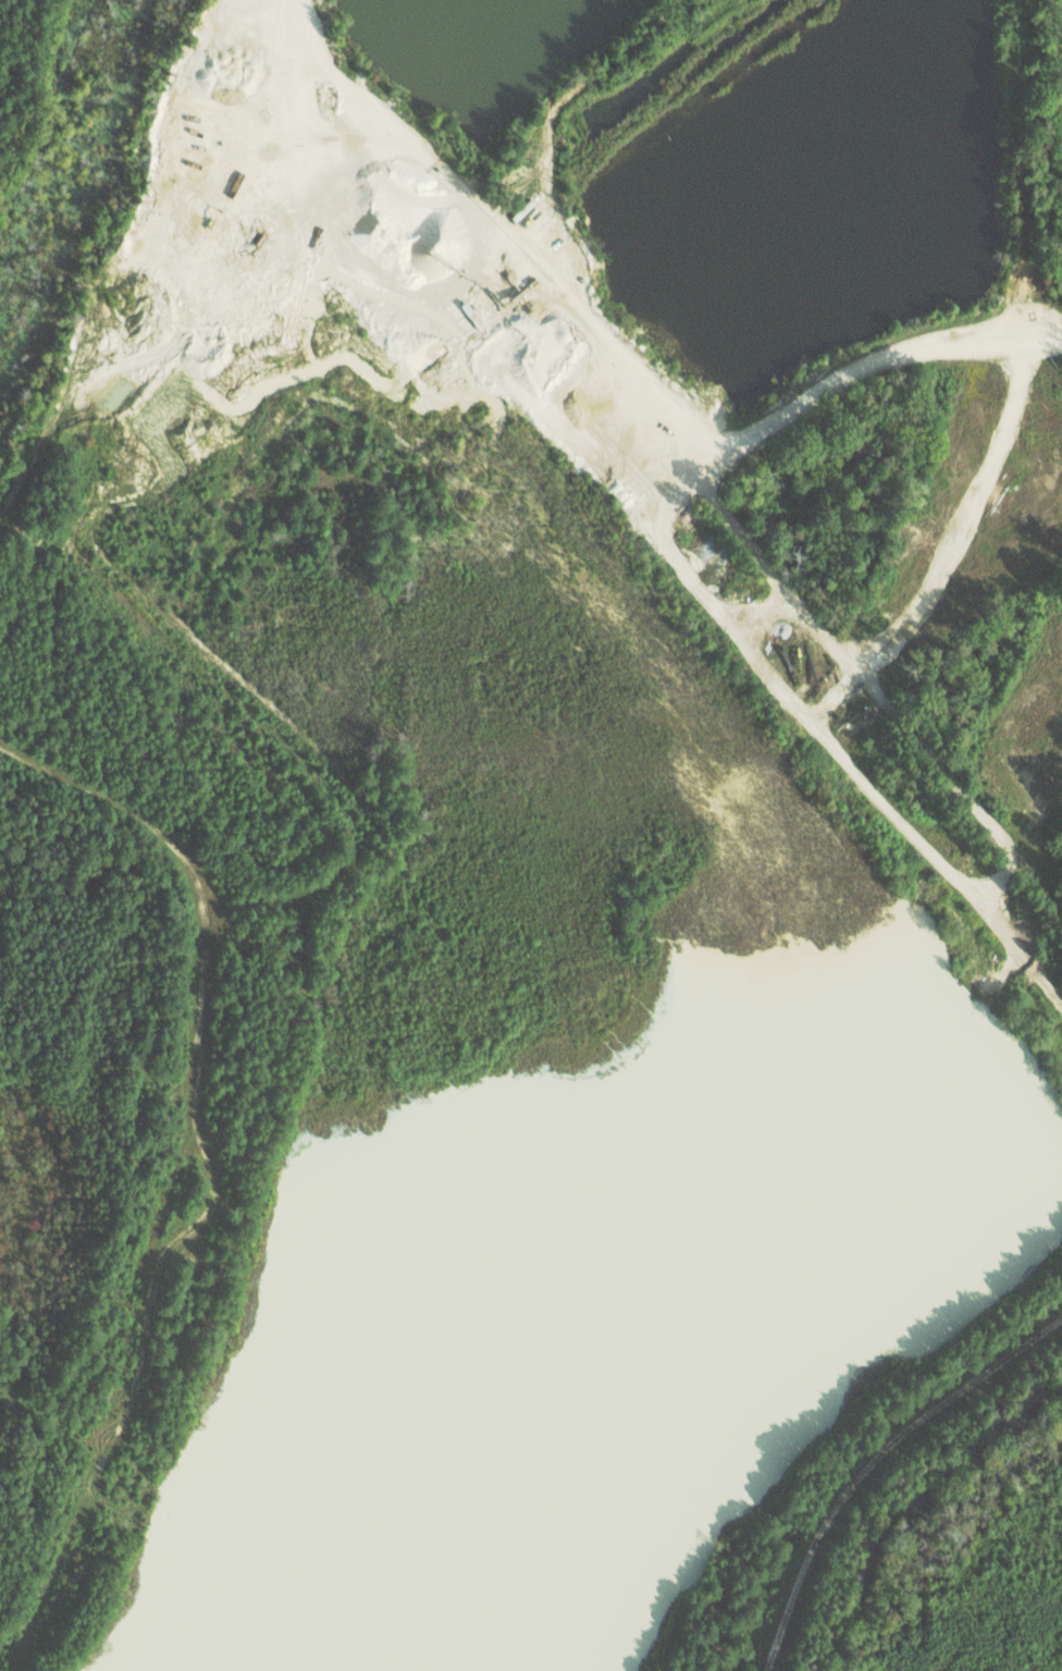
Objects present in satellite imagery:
road: (657, 64)

